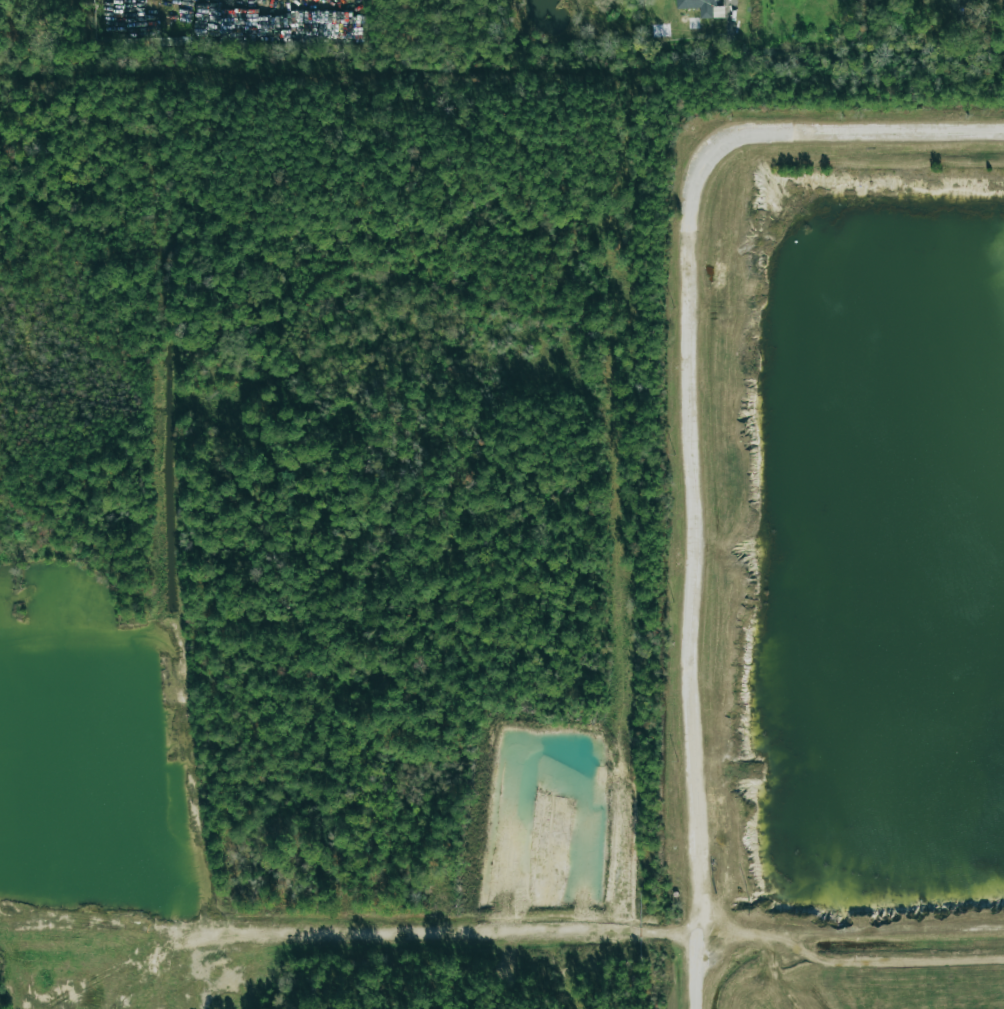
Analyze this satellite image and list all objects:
building: (699, 6)
road: (747, 23)
road: (688, 424)
landfill: (835, 555)
road: (347, 929)

